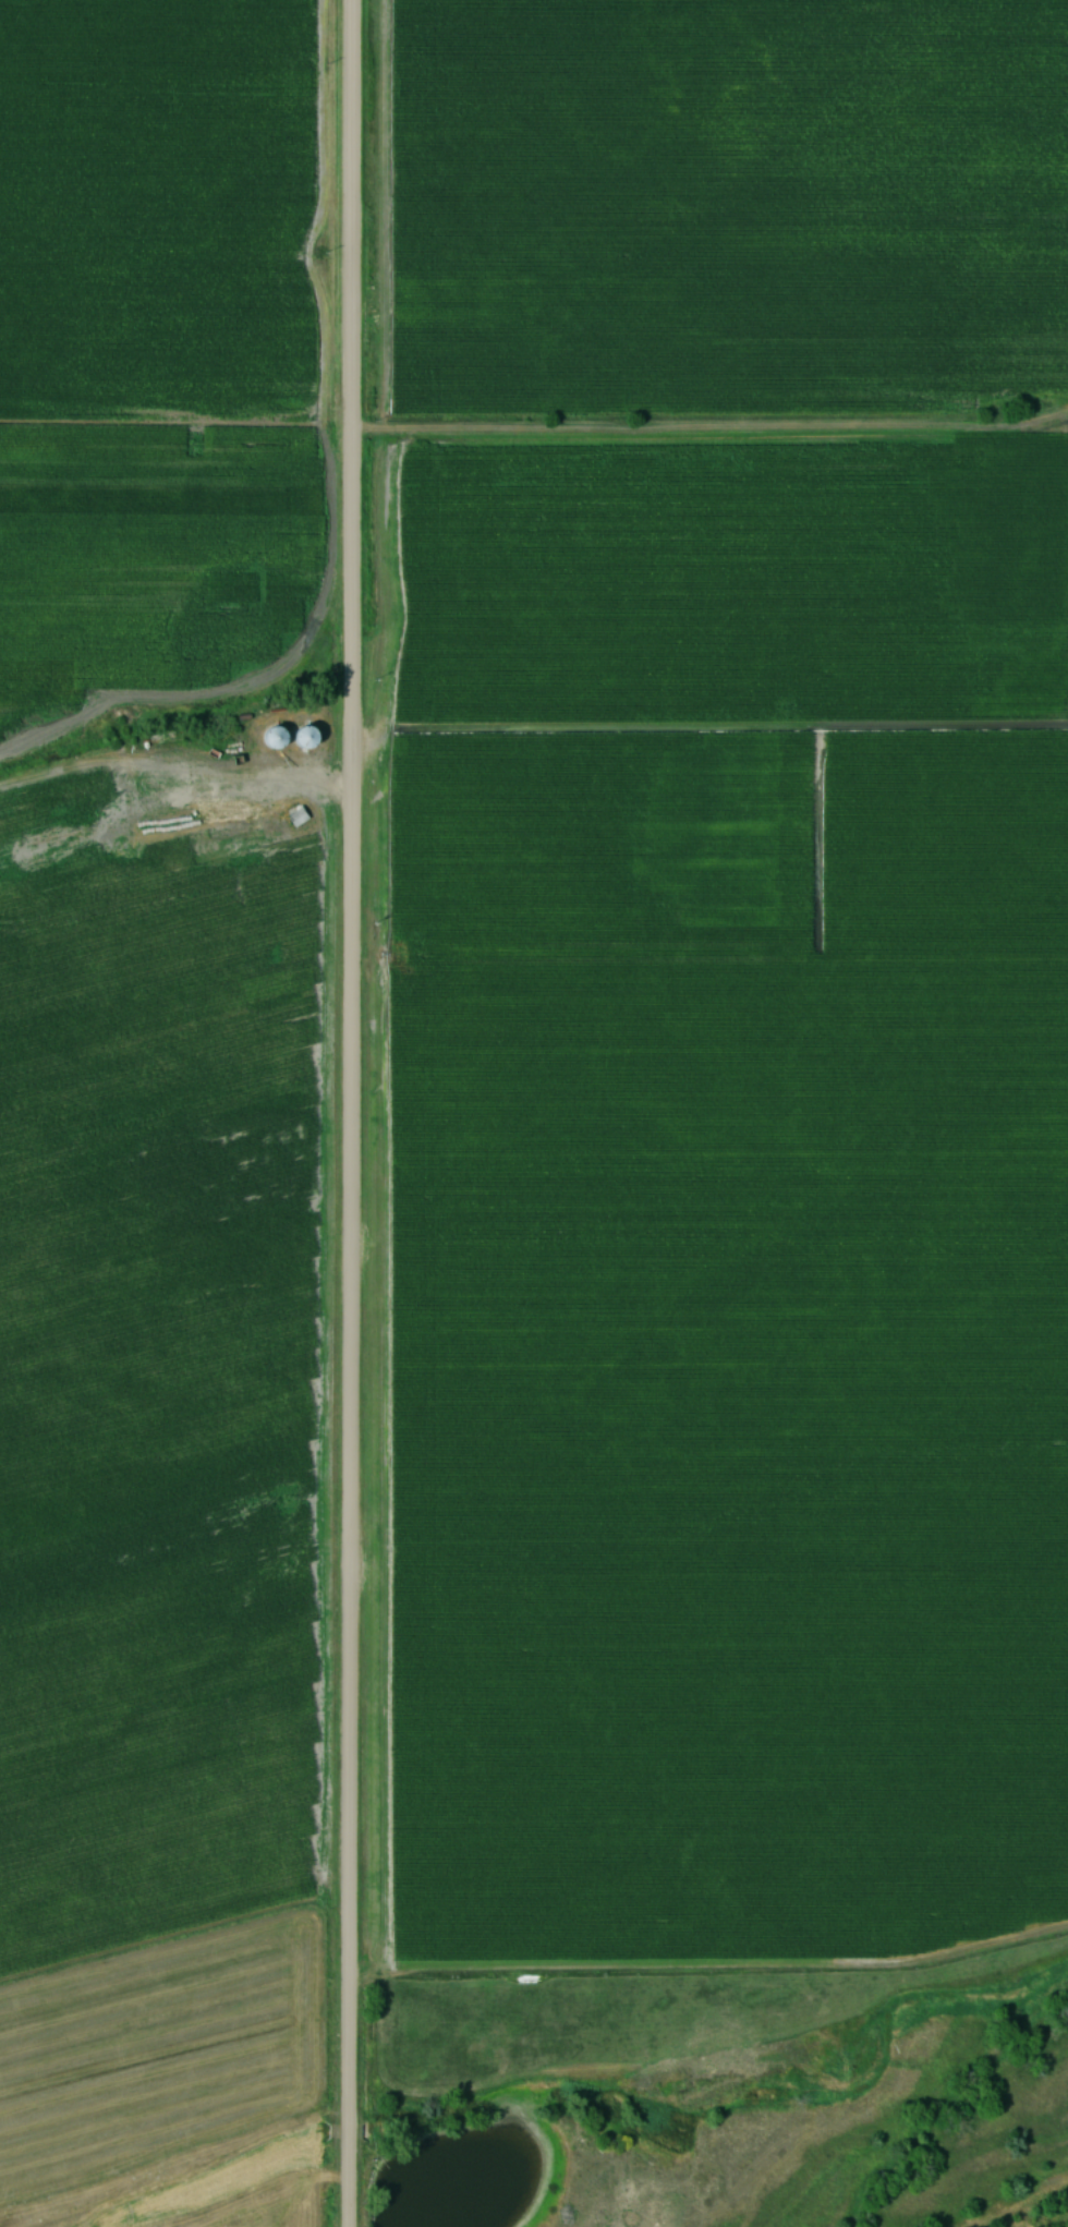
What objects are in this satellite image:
building: (279, 739)
building: (299, 814)
road: (351, 1113)

